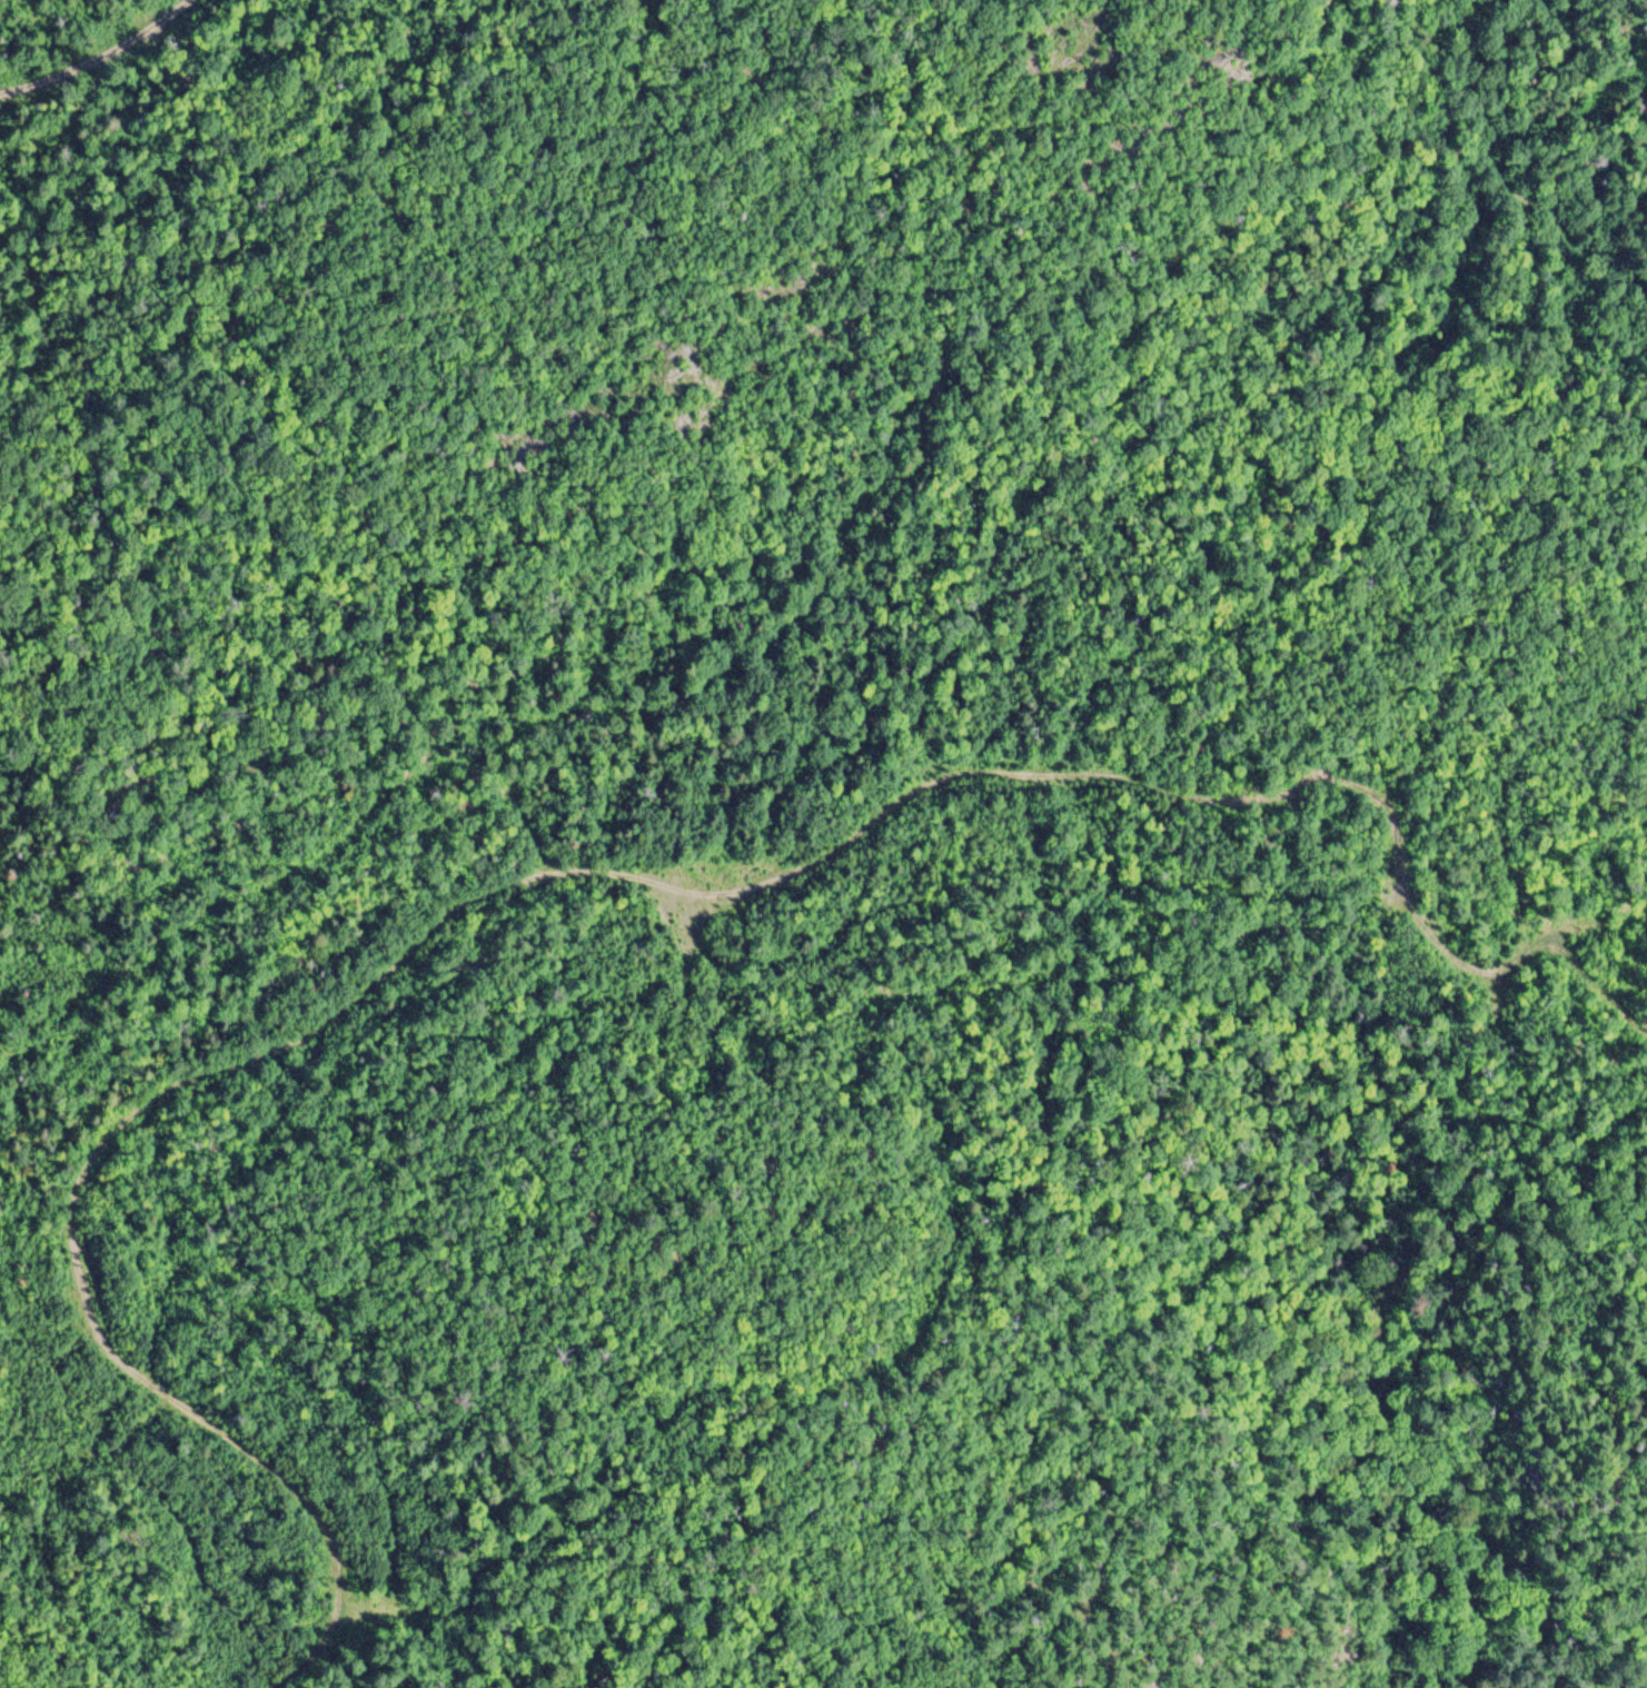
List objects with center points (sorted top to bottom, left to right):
road: (102, 54)

